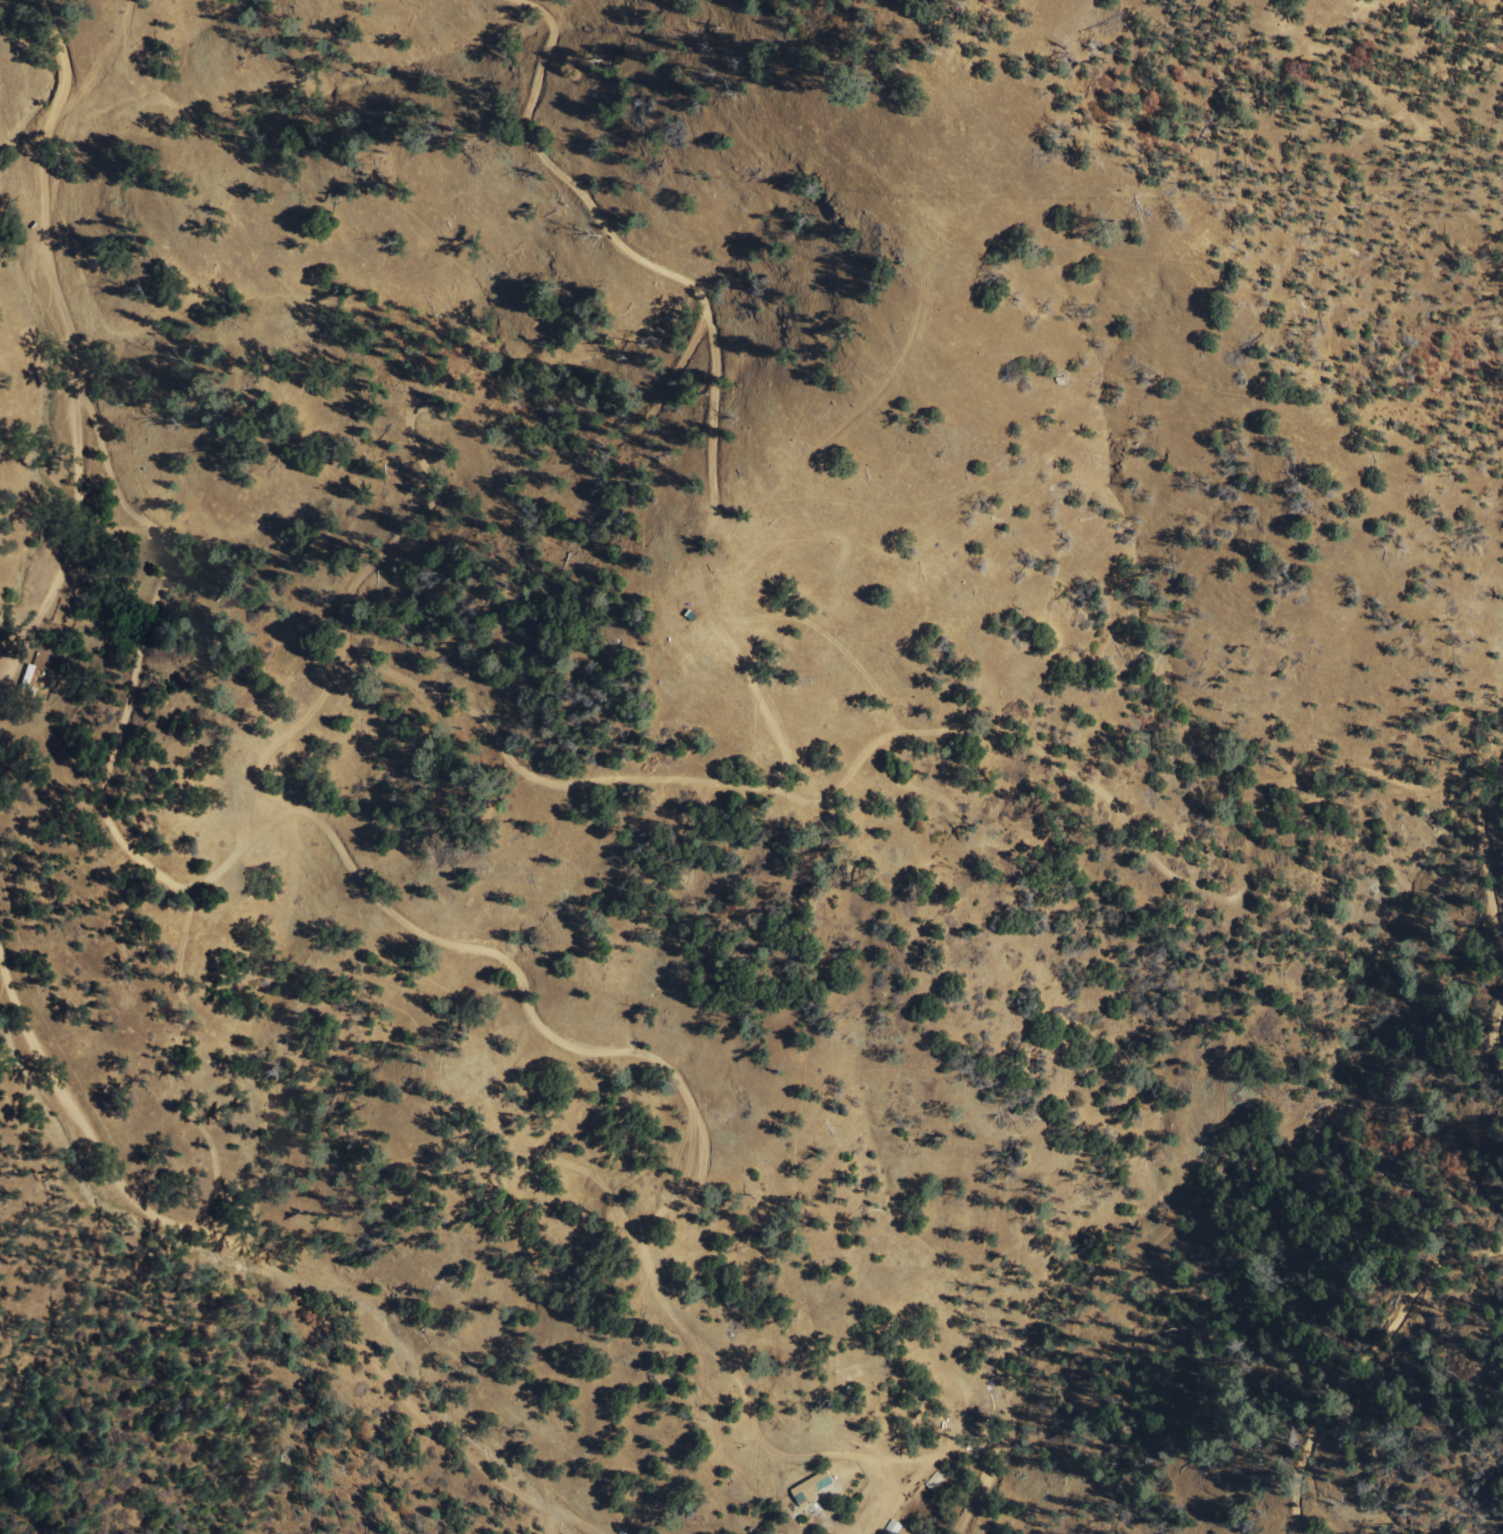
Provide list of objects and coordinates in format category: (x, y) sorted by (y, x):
road: (83, 353)
road: (35, 550)
road: (286, 1263)
building: (937, 1481)
building: (811, 1490)

